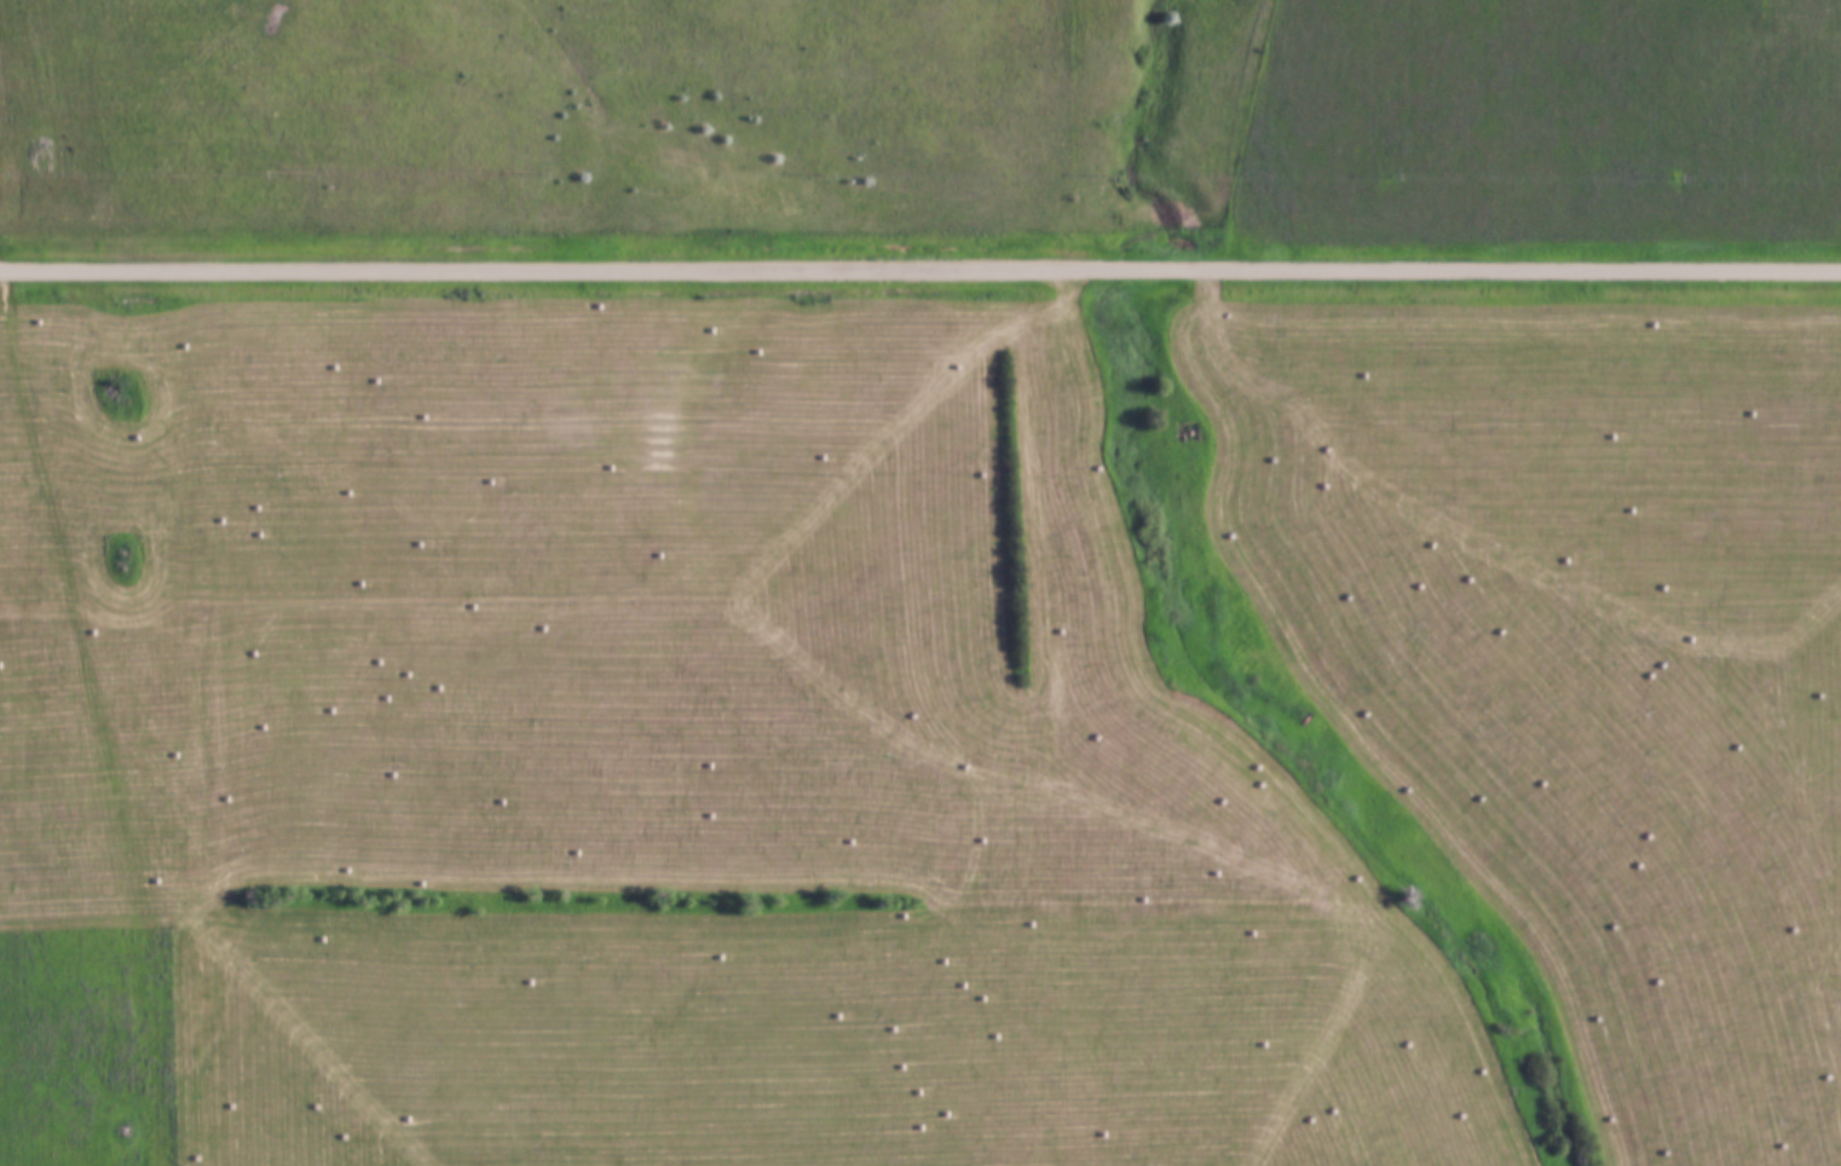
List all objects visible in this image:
road: (921, 261)
building: (986, 462)
building: (698, 1145)

